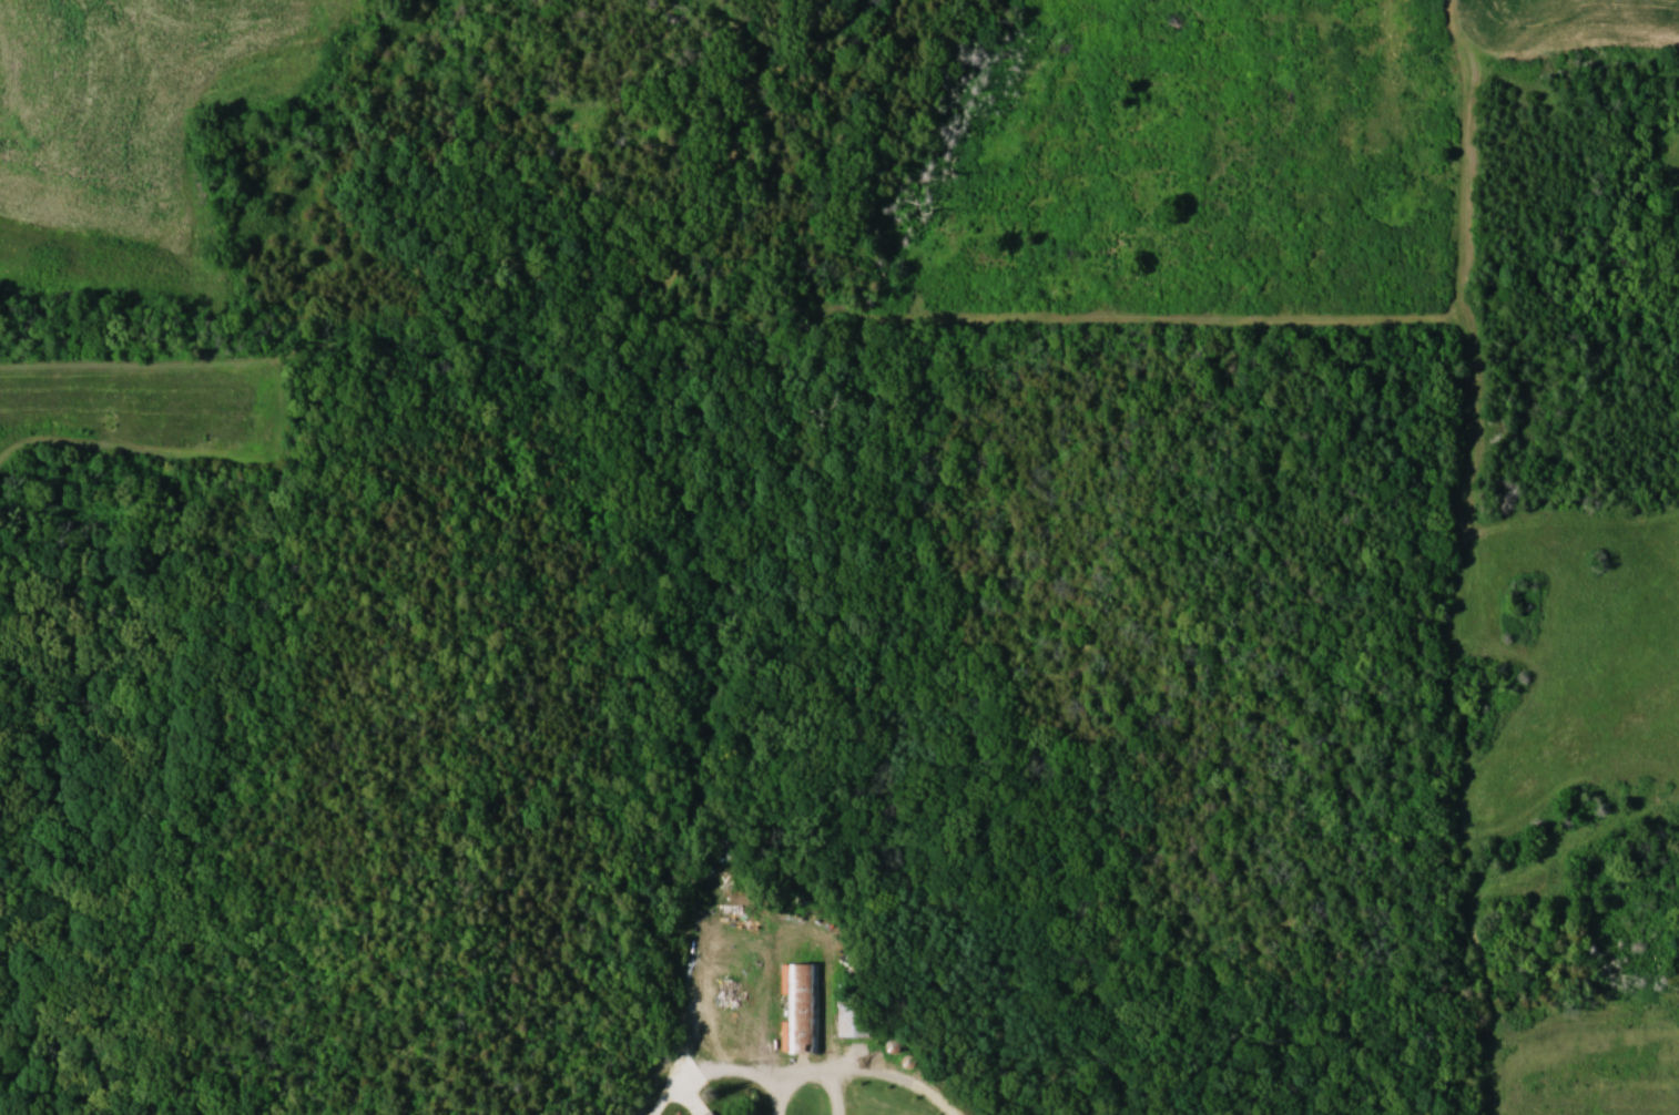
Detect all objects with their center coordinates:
building: (801, 1006)
building: (857, 1024)
road: (745, 1077)
building: (712, 1113)

